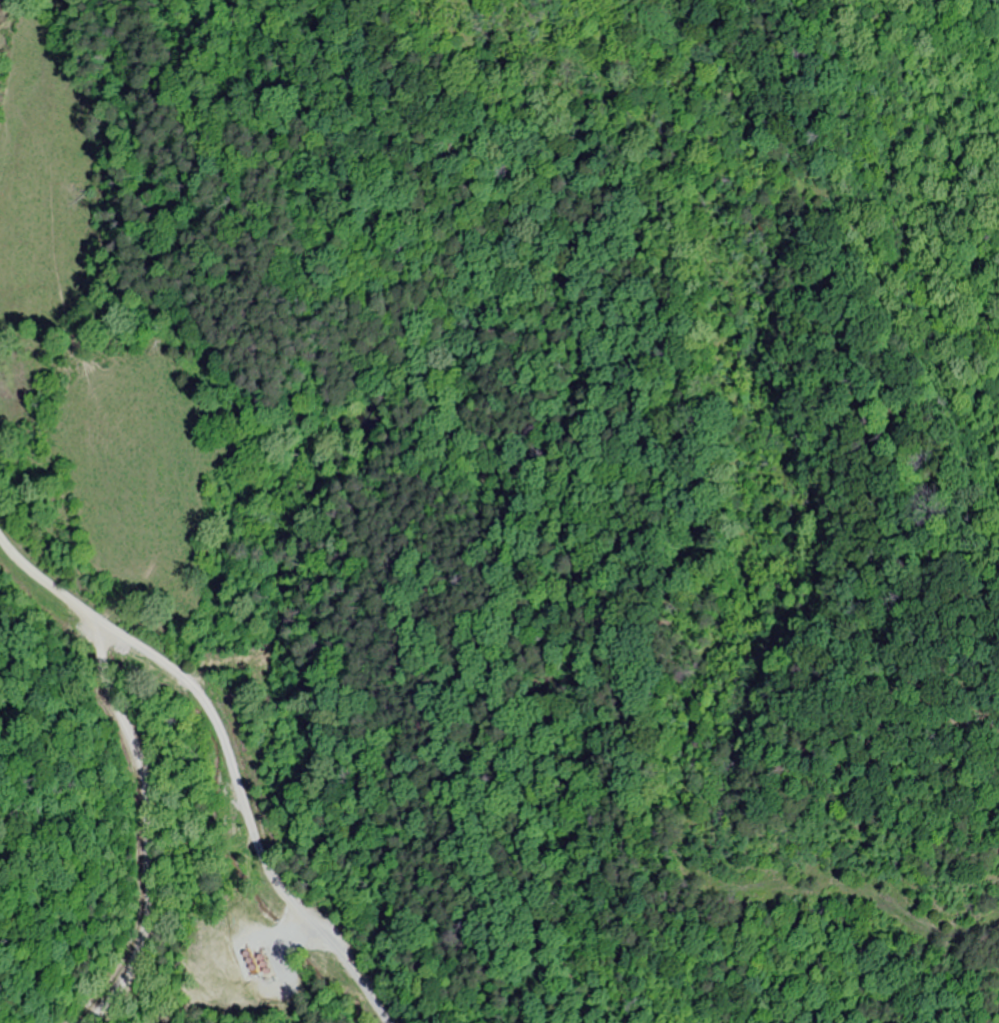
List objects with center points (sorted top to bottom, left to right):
road: (227, 748)

